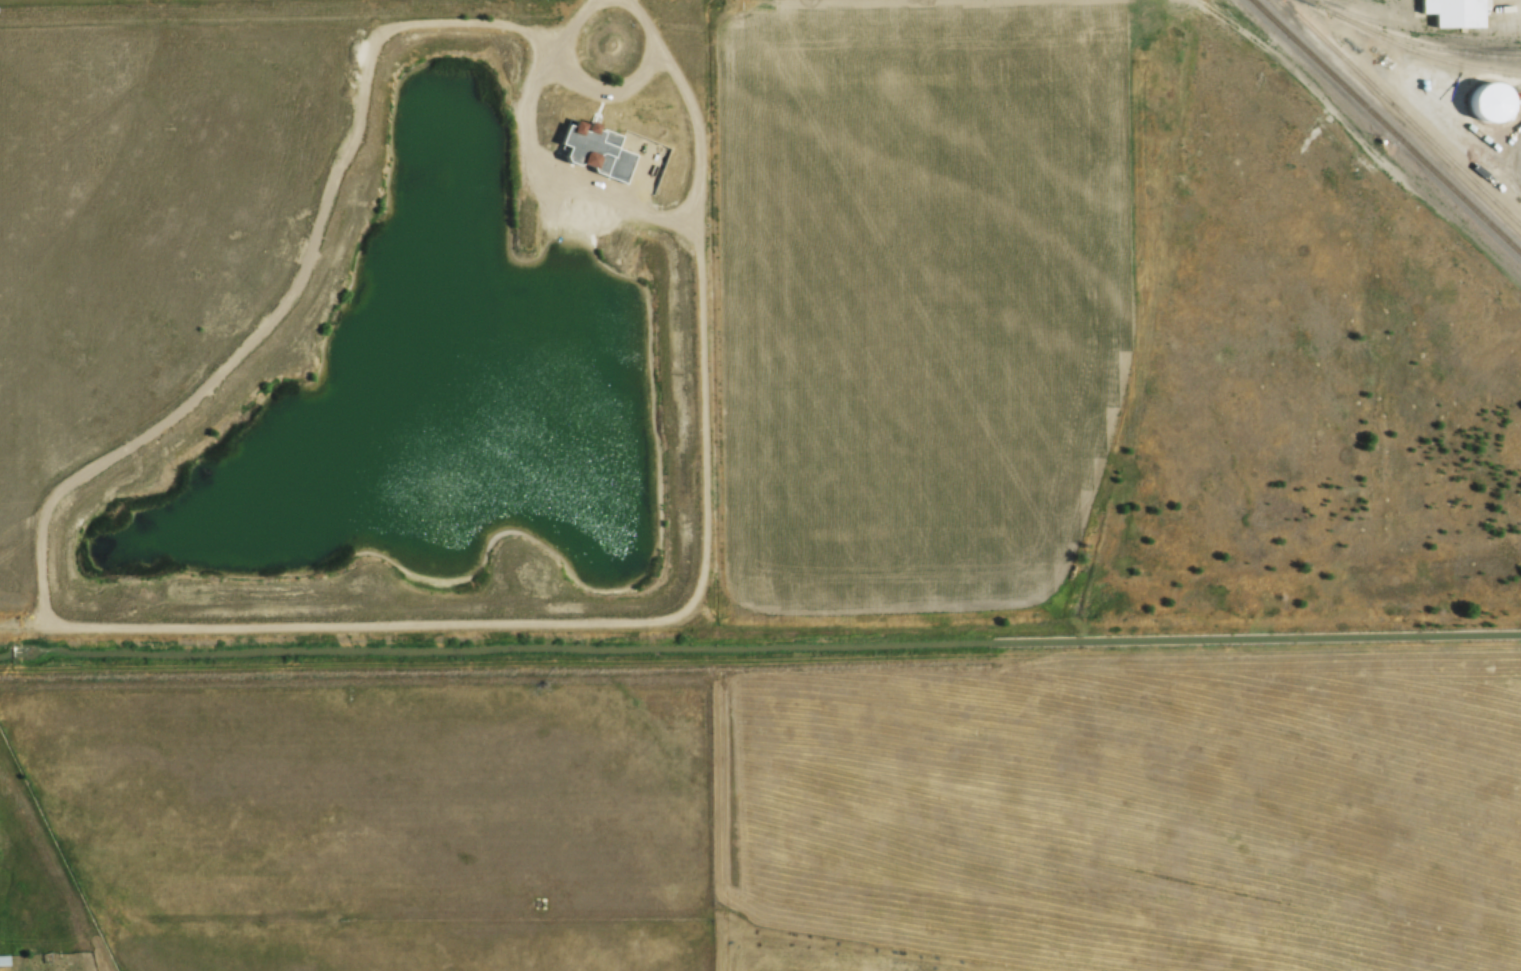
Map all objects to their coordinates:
building: (1455, 12)
railway: (1416, 28)
railway: (1441, 46)
railway: (1411, 48)
railway: (1400, 111)
railway: (1388, 125)
building: (616, 159)
building: (656, 159)
park: (821, 954)
building: (4, 959)

